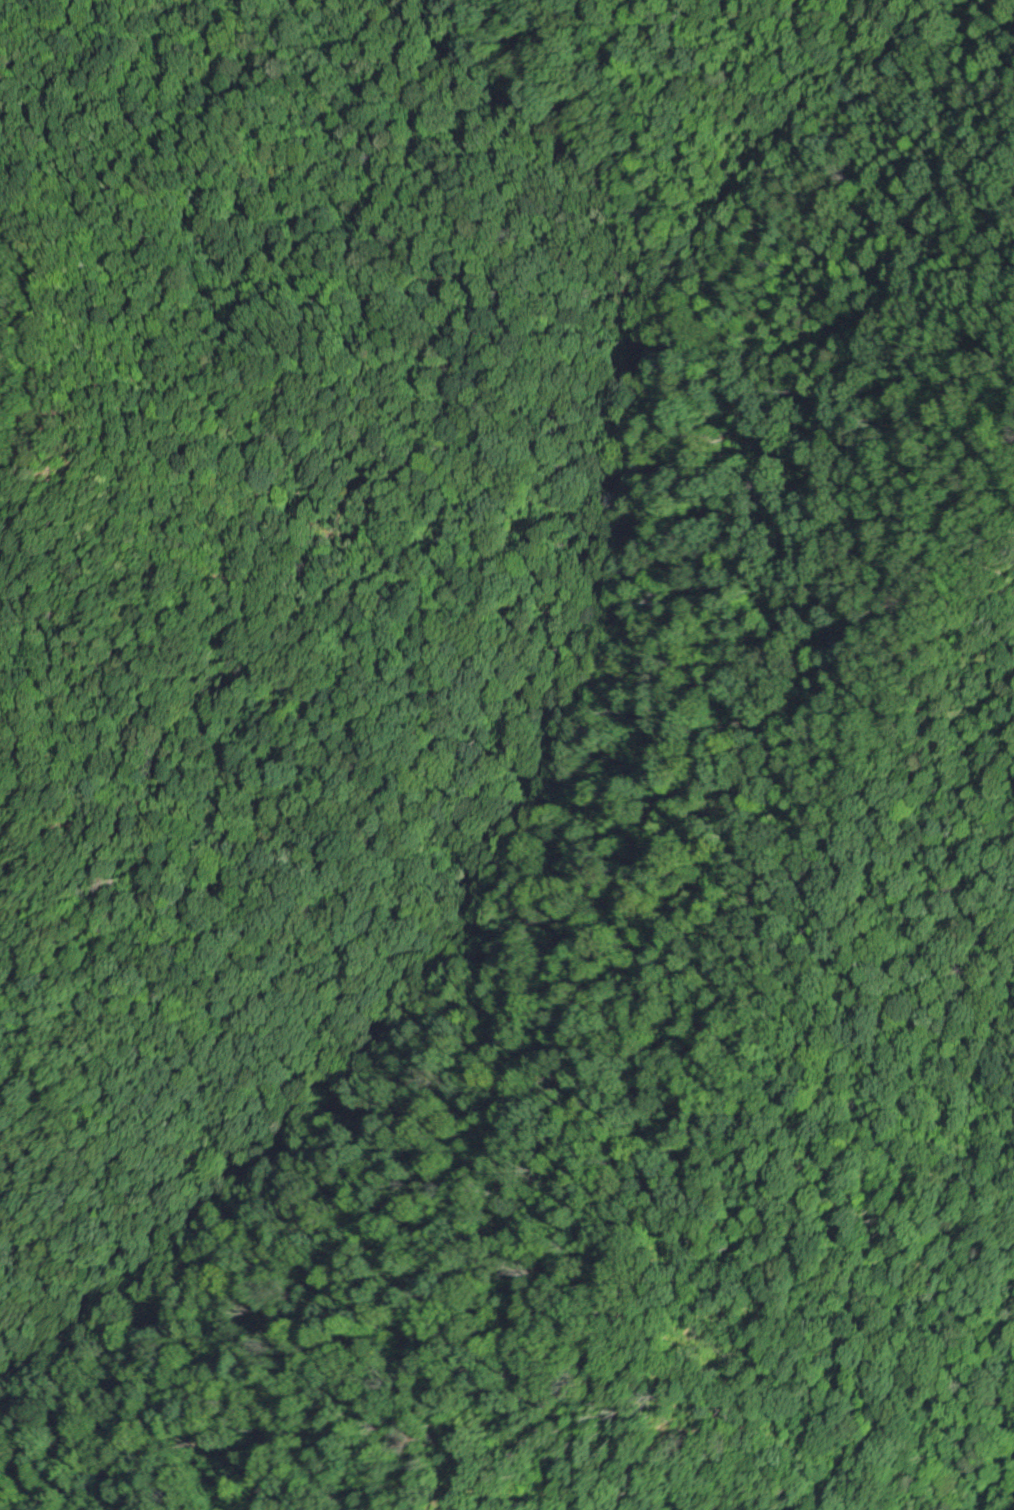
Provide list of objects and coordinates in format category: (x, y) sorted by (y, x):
road: (1009, 1504)

